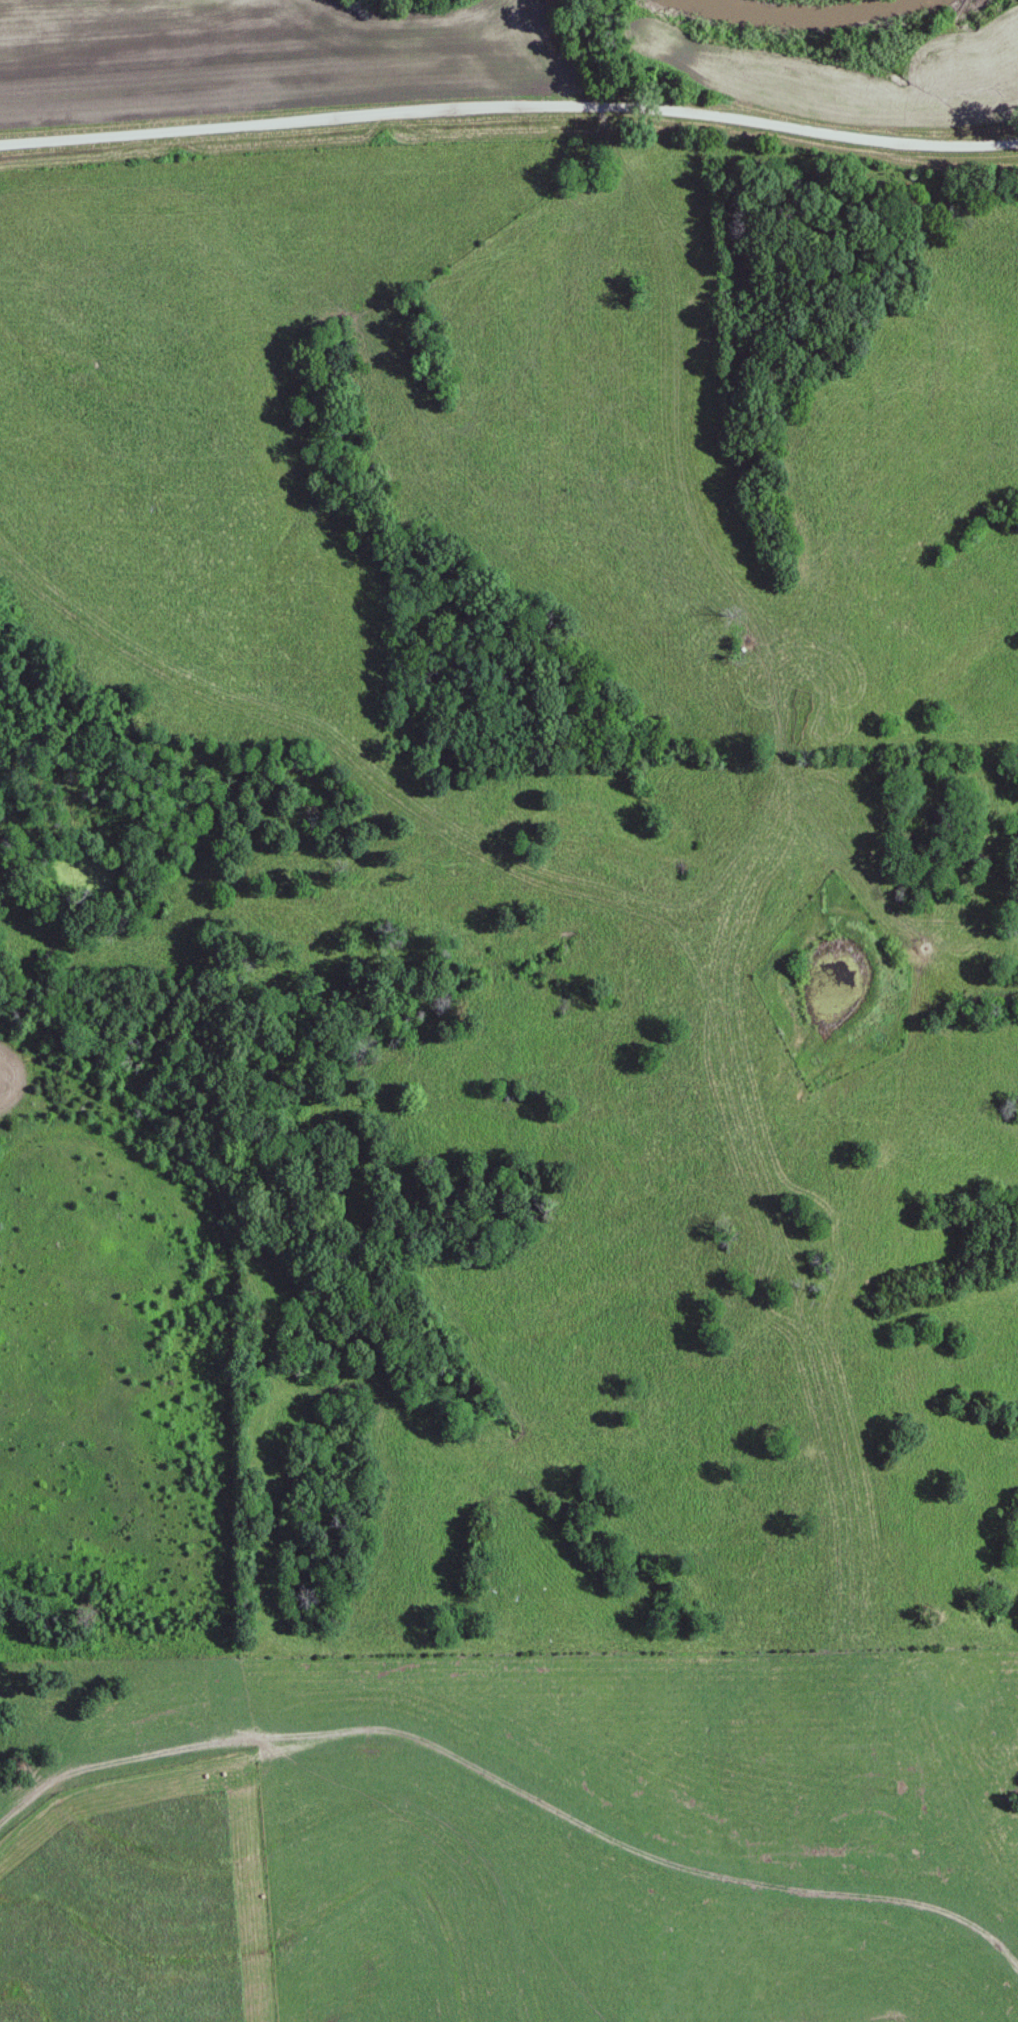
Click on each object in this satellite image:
road: (510, 107)
road: (860, 2003)

